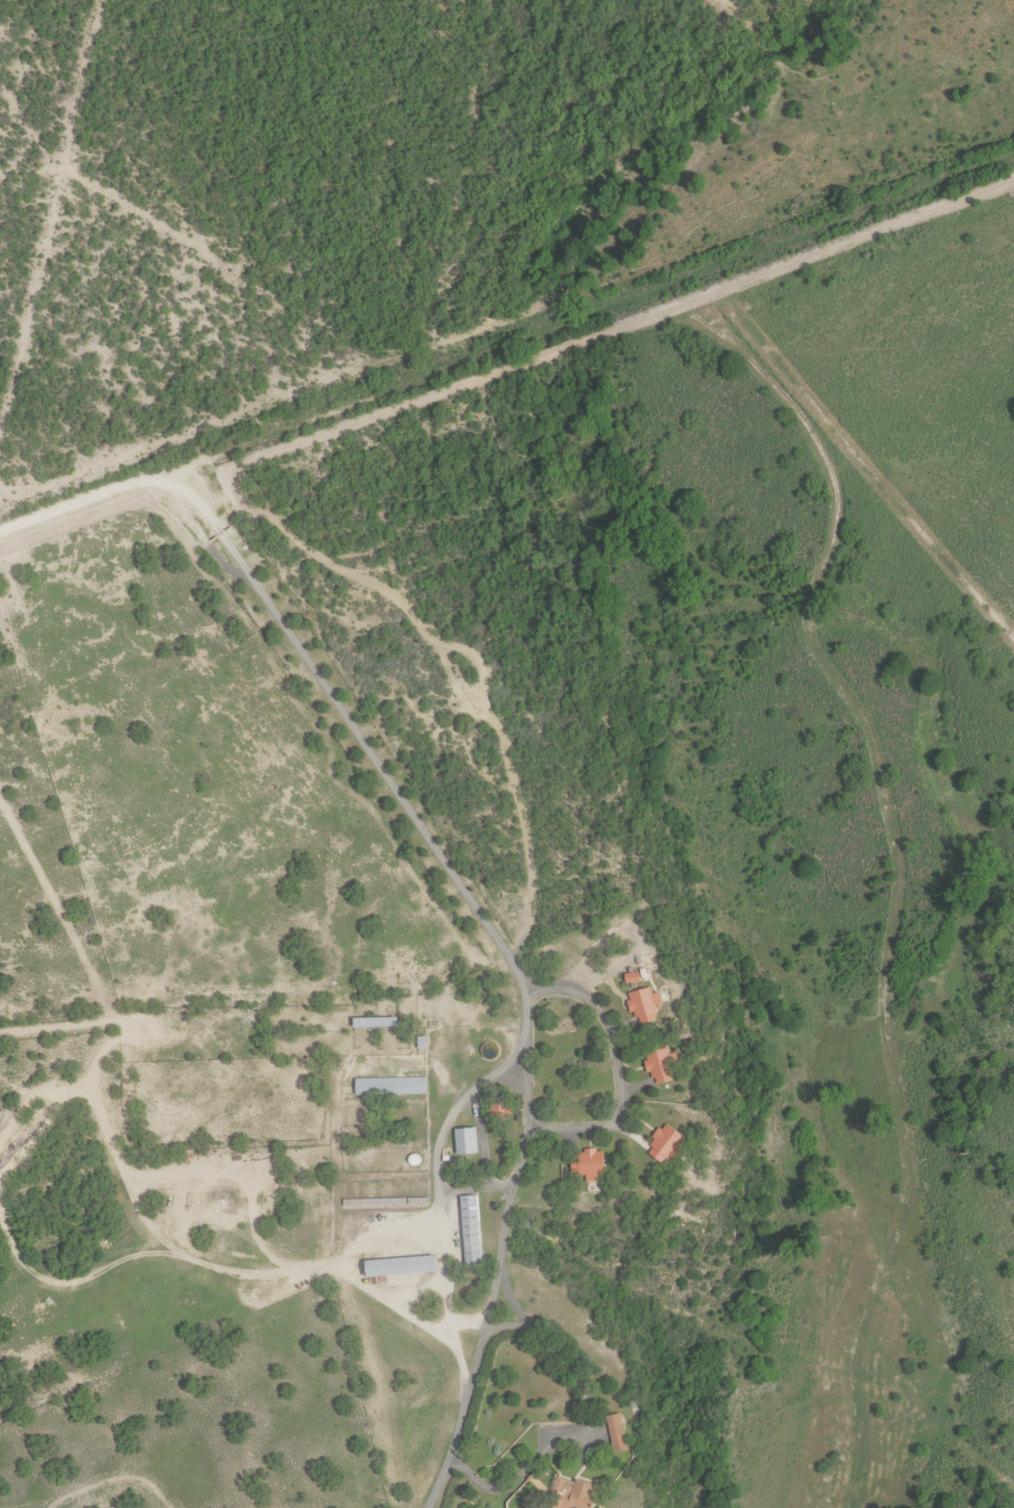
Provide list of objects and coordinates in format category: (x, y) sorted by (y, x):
road: (509, 360)
road: (907, 487)
road: (514, 953)
building: (645, 1005)
building: (376, 1013)
building: (662, 1066)
building: (391, 1086)
building: (466, 1141)
building: (590, 1163)
building: (471, 1230)
building: (401, 1267)
road: (770, 1342)
building: (617, 1434)
building: (574, 1496)

